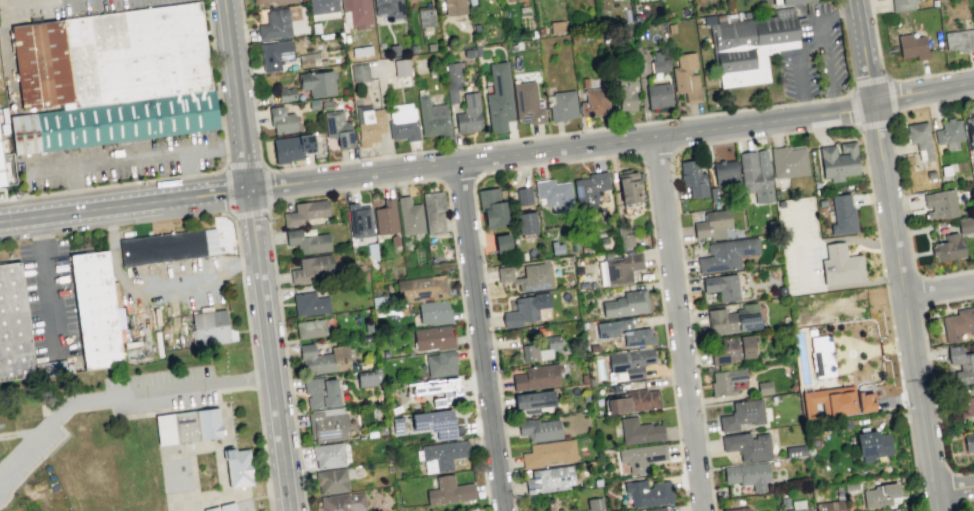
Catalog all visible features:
building: (259, 1)
building: (281, 1)
building: (792, 1)
parking lot: (113, 5)
building: (901, 5)
building: (322, 6)
building: (454, 6)
building: (389, 9)
building: (357, 12)
building: (425, 17)
building: (274, 24)
road: (6, 37)
building: (959, 40)
building: (750, 45)
building: (911, 46)
road: (811, 47)
road: (826, 48)
building: (361, 51)
road: (865, 51)
building: (274, 53)
building: (142, 54)
parking lot: (816, 56)
building: (658, 62)
building: (39, 64)
building: (401, 67)
building: (359, 72)
building: (686, 76)
road: (888, 77)
road: (891, 78)
building: (452, 81)
building: (316, 82)
road: (802, 87)
building: (625, 88)
road: (239, 94)
building: (285, 94)
building: (658, 95)
road: (923, 95)
building: (498, 98)
building: (594, 101)
building: (526, 102)
building: (562, 106)
building: (468, 113)
building: (432, 117)
building: (281, 120)
building: (2, 122)
building: (402, 122)
building: (115, 124)
building: (368, 124)
road: (857, 125)
building: (337, 127)
building: (948, 131)
building: (970, 131)
road: (777, 133)
road: (667, 134)
road: (521, 139)
building: (920, 139)
building: (291, 146)
road: (654, 154)
road: (138, 155)
road: (566, 160)
building: (787, 161)
building: (838, 161)
parking lot: (123, 165)
road: (245, 165)
building: (8, 168)
building: (944, 170)
road: (190, 172)
building: (724, 172)
building: (929, 173)
building: (1, 175)
building: (755, 175)
road: (197, 176)
road: (356, 176)
building: (693, 178)
road: (459, 179)
road: (899, 181)
building: (1, 185)
road: (266, 185)
road: (367, 187)
building: (628, 187)
building: (589, 190)
road: (229, 191)
building: (555, 194)
building: (713, 194)
building: (523, 195)
road: (125, 204)
building: (939, 204)
building: (491, 207)
building: (306, 212)
building: (433, 212)
road: (250, 213)
building: (842, 215)
building: (409, 216)
building: (385, 217)
building: (359, 220)
building: (525, 222)
building: (712, 224)
building: (965, 224)
building: (624, 237)
building: (394, 240)
building: (306, 241)
building: (501, 243)
building: (169, 247)
building: (948, 247)
parking lot: (804, 248)
building: (726, 254)
building: (973, 254)
building: (841, 266)
building: (310, 267)
building: (621, 267)
building: (528, 276)
road: (244, 284)
building: (721, 286)
road: (48, 287)
building: (421, 288)
road: (938, 291)
road: (903, 298)
parking lot: (49, 301)
building: (309, 303)
building: (625, 304)
building: (525, 309)
street lamp: (923, 309)
building: (95, 311)
building: (434, 312)
building: (733, 319)
building: (623, 323)
road: (679, 323)
building: (958, 323)
building: (592, 325)
building: (13, 326)
building: (310, 328)
building: (210, 329)
road: (482, 336)
building: (433, 337)
building: (637, 337)
building: (552, 344)
building: (593, 347)
road: (273, 349)
building: (732, 349)
building: (384, 353)
building: (821, 356)
building: (323, 359)
building: (441, 363)
building: (628, 363)
building: (961, 364)
building: (536, 377)
road: (256, 378)
building: (365, 378)
building: (725, 380)
building: (615, 387)
building: (764, 387)
building: (436, 389)
building: (320, 392)
road: (123, 394)
building: (533, 400)
building: (633, 401)
building: (828, 401)
building: (864, 401)
building: (965, 408)
building: (741, 414)
building: (435, 423)
building: (396, 424)
building: (327, 426)
building: (188, 427)
parking lot: (48, 429)
building: (538, 429)
road: (22, 430)
building: (380, 430)
building: (638, 431)
building: (371, 433)
building: (968, 440)
building: (872, 444)
building: (747, 445)
road: (265, 450)
building: (794, 450)
building: (548, 453)
building: (441, 454)
building: (327, 455)
building: (640, 457)
building: (368, 465)
building: (238, 469)
building: (748, 474)
building: (549, 479)
building: (331, 480)
building: (850, 485)
road: (953, 489)
building: (448, 491)
building: (838, 491)
building: (647, 492)
building: (879, 494)
building: (342, 502)
road: (935, 502)
building: (594, 503)
building: (783, 503)
building: (550, 506)
building: (828, 506)
building: (223, 508)
building: (656, 509)
building: (737, 509)
building: (799, 509)
building: (764, 510)
building: (767, 510)

